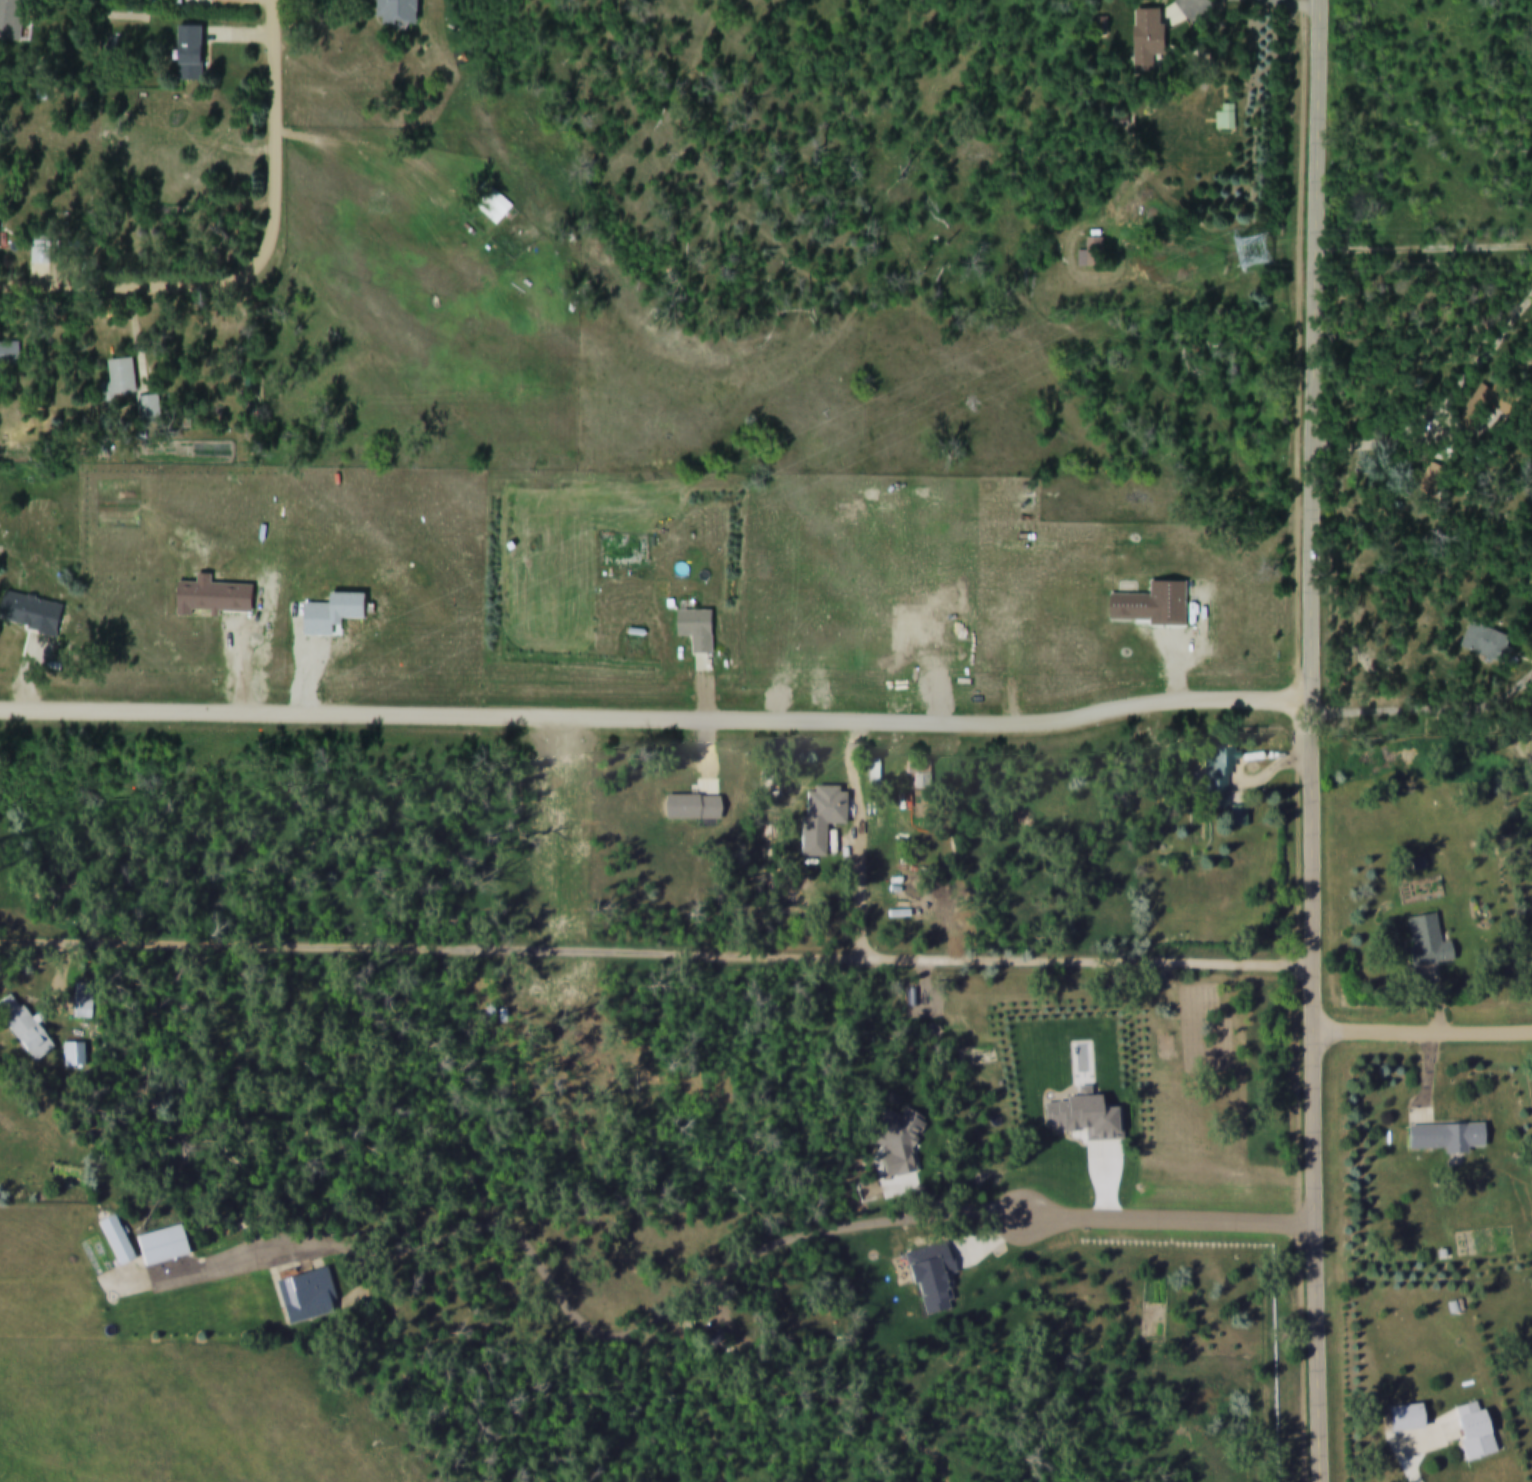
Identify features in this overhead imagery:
road: (1304, 2)
building: (171, 5)
building: (395, 13)
road: (273, 15)
building: (11, 20)
building: (1148, 44)
building: (190, 56)
road: (365, 116)
building: (1226, 121)
building: (490, 205)
building: (1, 232)
building: (41, 253)
power tower: (1258, 255)
building: (1085, 262)
road: (250, 278)
building: (10, 357)
building: (123, 380)
building: (522, 511)
building: (702, 630)
building: (1481, 643)
road: (633, 697)
road: (1310, 741)
building: (923, 773)
building: (1215, 776)
building: (825, 819)
building: (1423, 941)
road: (656, 953)
building: (27, 1025)
road: (1422, 1035)
building: (1440, 1137)
building: (120, 1240)
building: (166, 1244)
road: (711, 1283)
building: (312, 1295)
building: (1400, 1418)
building: (1470, 1434)

